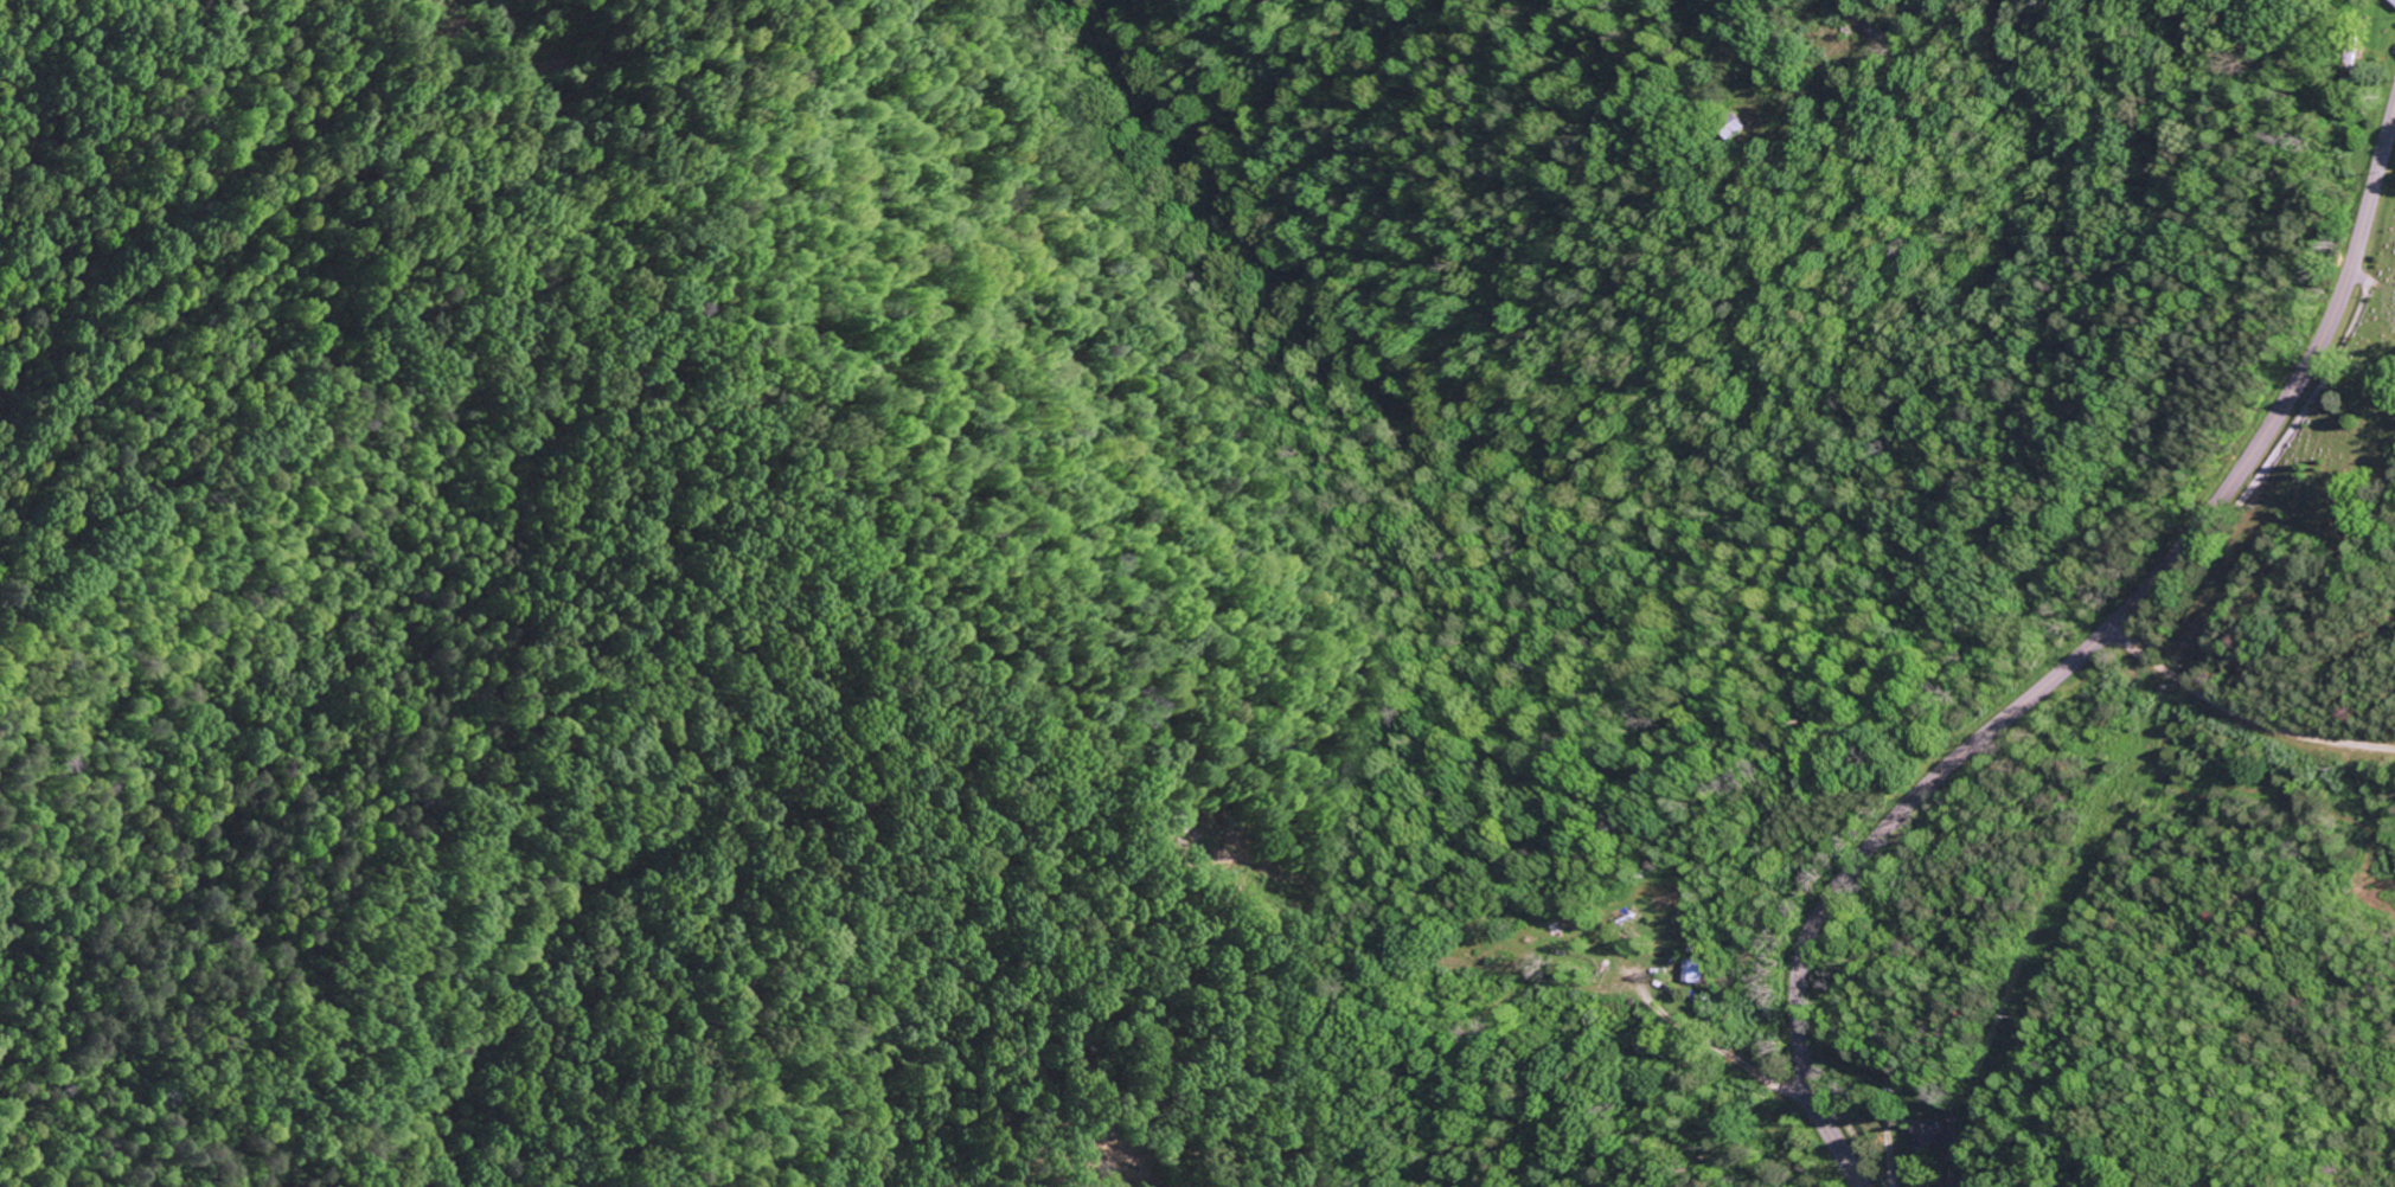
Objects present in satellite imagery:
building: (2391, 2)
park: (2343, 426)
road: (2076, 659)
road: (2244, 702)
building: (1693, 973)
building: (1929, 1136)

